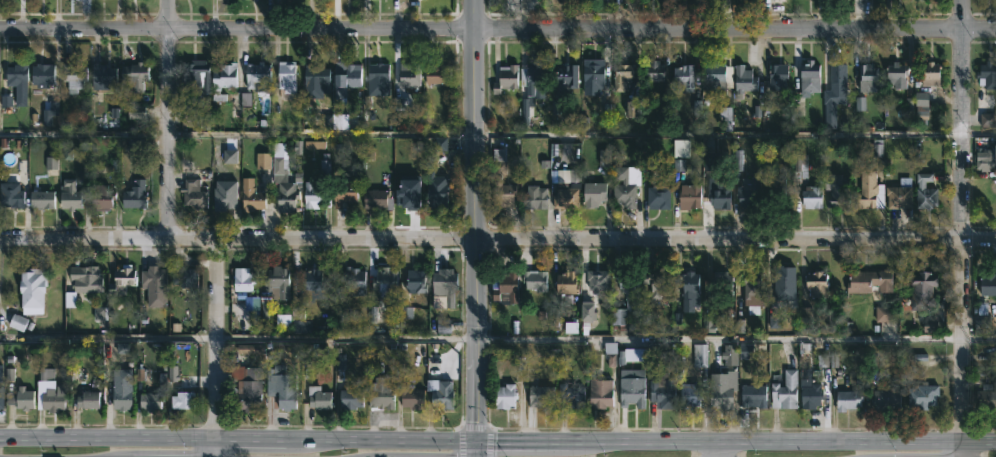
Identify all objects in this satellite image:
building: (753, 0)
road: (497, 25)
building: (17, 72)
building: (194, 73)
building: (378, 73)
building: (653, 73)
building: (42, 74)
building: (257, 74)
building: (898, 74)
building: (409, 75)
building: (437, 75)
building: (930, 75)
building: (987, 75)
building: (225, 76)
building: (593, 76)
building: (869, 76)
building: (73, 77)
building: (103, 77)
building: (132, 77)
building: (286, 77)
building: (622, 77)
building: (346, 78)
building: (810, 78)
building: (315, 79)
building: (505, 79)
building: (683, 79)
building: (716, 79)
building: (777, 79)
building: (744, 80)
building: (566, 81)
building: (531, 86)
building: (833, 92)
building: (860, 104)
building: (922, 105)
building: (633, 108)
building: (50, 113)
road: (961, 118)
building: (725, 119)
road: (166, 120)
building: (987, 120)
building: (340, 121)
road: (978, 130)
road: (83, 131)
building: (680, 148)
building: (604, 158)
building: (986, 159)
building: (262, 161)
building: (51, 163)
building: (800, 166)
building: (283, 181)
building: (501, 182)
building: (564, 189)
building: (623, 189)
building: (838, 190)
building: (867, 190)
building: (344, 193)
building: (409, 193)
building: (437, 193)
building: (926, 193)
building: (749, 194)
building: (69, 195)
building: (193, 195)
building: (312, 195)
building: (593, 195)
building: (718, 195)
building: (11, 196)
building: (134, 196)
building: (251, 196)
building: (224, 197)
building: (690, 197)
building: (812, 197)
building: (899, 197)
building: (101, 198)
building: (658, 198)
building: (41, 199)
building: (375, 199)
building: (534, 199)
road: (472, 221)
road: (978, 238)
road: (480, 239)
building: (182, 276)
building: (84, 279)
building: (242, 279)
building: (122, 280)
building: (311, 281)
building: (535, 281)
building: (722, 281)
building: (352, 282)
building: (414, 282)
building: (597, 282)
building: (870, 282)
building: (277, 283)
building: (784, 283)
building: (656, 284)
building: (817, 284)
building: (988, 284)
building: (155, 286)
building: (445, 286)
building: (386, 287)
building: (566, 287)
building: (504, 288)
building: (32, 291)
building: (689, 291)
building: (754, 291)
building: (923, 291)
building: (70, 300)
building: (627, 300)
building: (99, 314)
building: (587, 314)
building: (883, 314)
building: (981, 317)
building: (300, 321)
building: (17, 322)
building: (930, 324)
building: (570, 327)
road: (237, 338)
road: (718, 338)
road: (979, 338)
road: (216, 347)
road: (962, 347)
building: (746, 351)
building: (629, 355)
building: (729, 355)
building: (700, 356)
building: (0, 375)
building: (662, 378)
building: (246, 387)
building: (723, 387)
building: (632, 388)
building: (281, 389)
building: (785, 392)
building: (381, 393)
building: (810, 393)
building: (600, 394)
building: (442, 396)
building: (689, 396)
building: (753, 396)
building: (923, 396)
building: (1, 397)
building: (504, 397)
building: (541, 397)
building: (572, 397)
building: (987, 397)
building: (318, 398)
building: (20, 399)
building: (53, 399)
building: (349, 399)
building: (413, 399)
building: (87, 400)
building: (121, 400)
building: (887, 400)
building: (182, 401)
building: (848, 401)
building: (150, 402)
traffic signals: (476, 442)
road: (498, 442)
road: (476, 449)
road: (717, 451)

